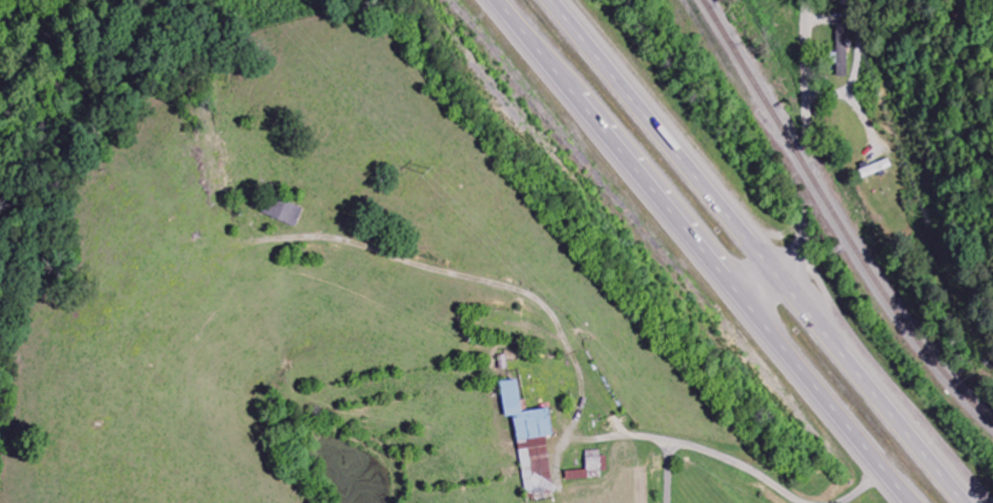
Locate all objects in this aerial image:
road: (808, 55)
building: (842, 59)
road: (862, 71)
road: (655, 137)
road: (616, 148)
building: (282, 211)
railway: (836, 219)
road: (789, 257)
road: (753, 286)
road: (863, 388)
road: (822, 400)
building: (530, 440)
building: (590, 467)

